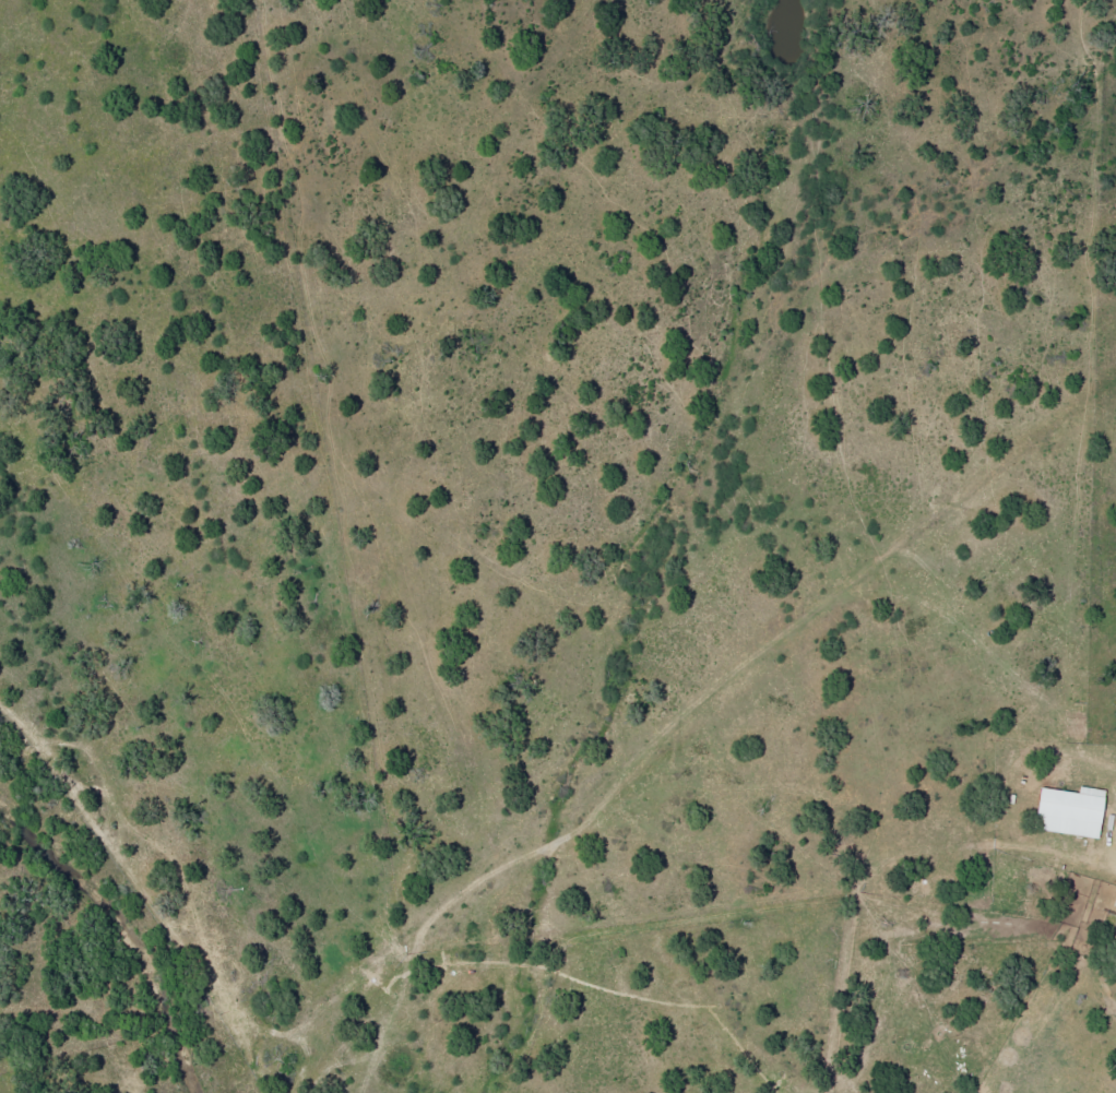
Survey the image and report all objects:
building: (1070, 811)

